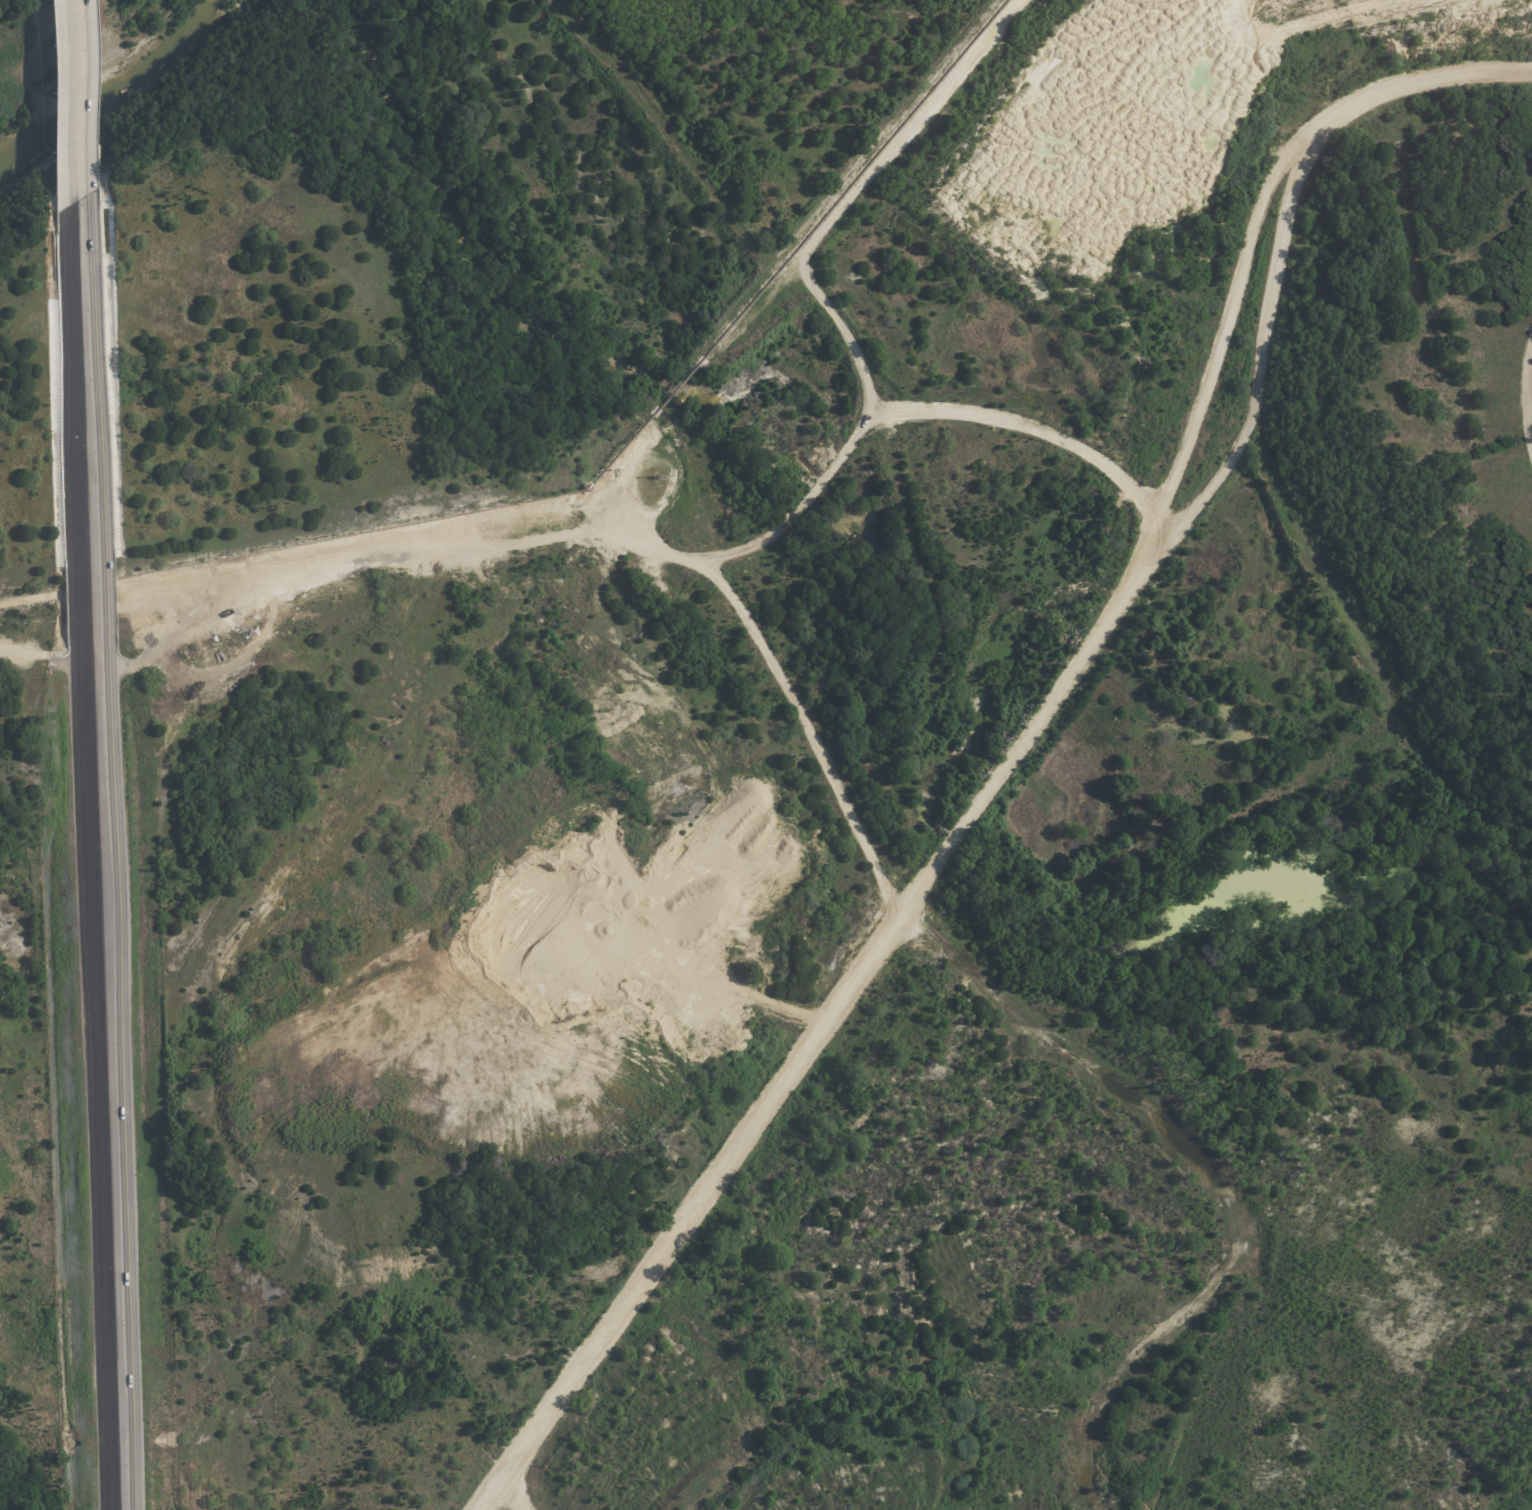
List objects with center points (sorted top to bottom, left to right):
road: (73, 100)
road: (1216, 320)
road: (82, 331)
road: (1527, 394)
road: (92, 643)
road: (1014, 749)
road: (106, 1039)
road: (116, 1382)

